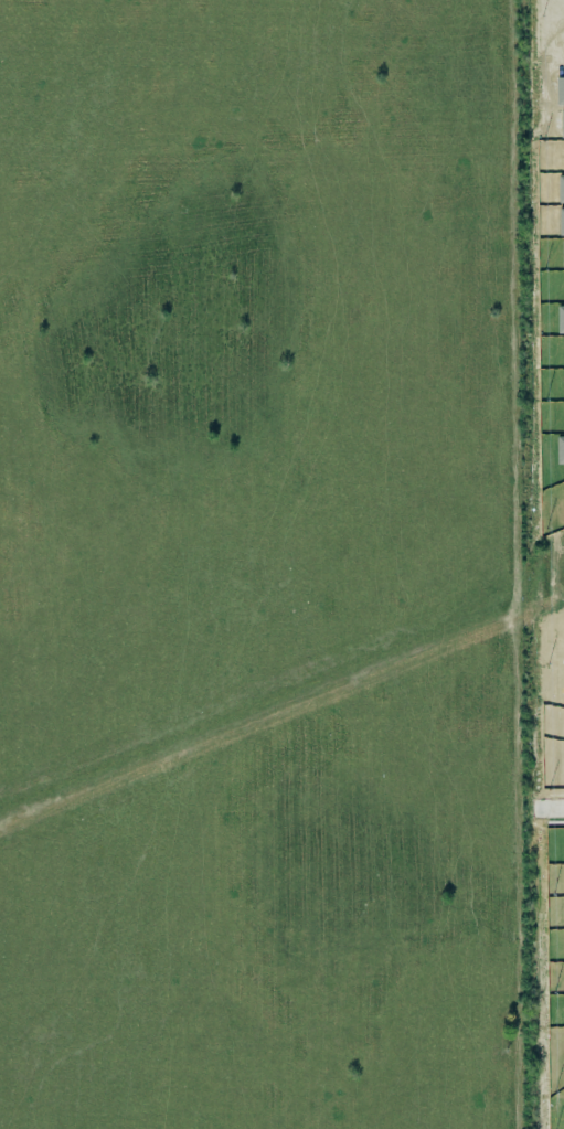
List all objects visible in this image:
road: (550, 810)

